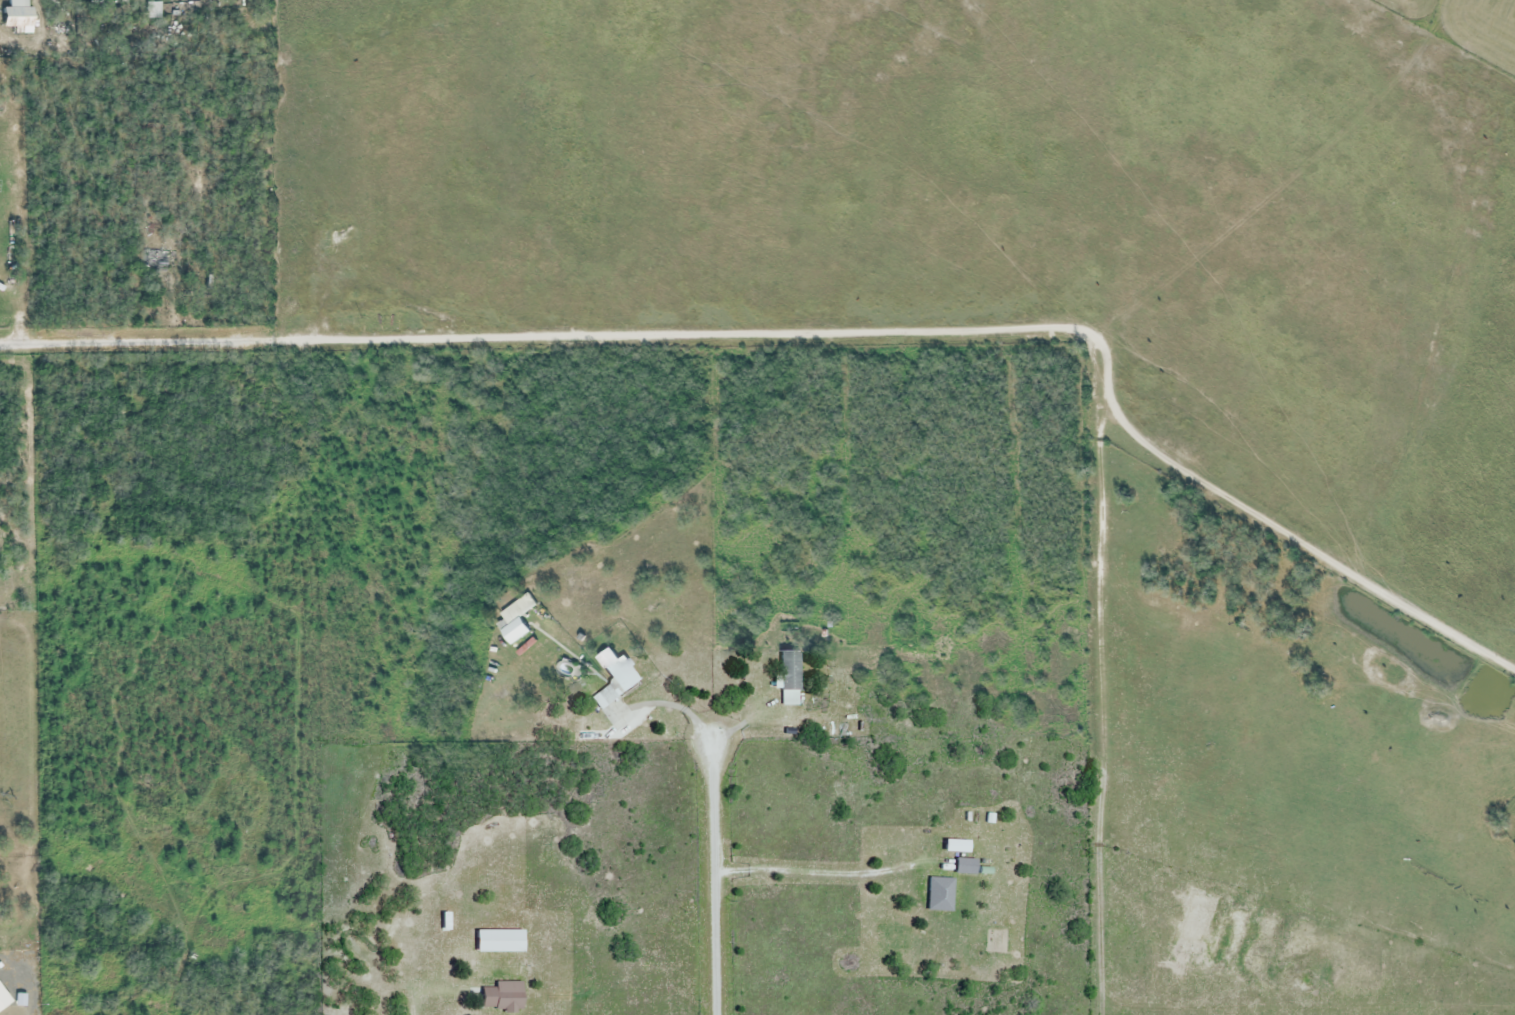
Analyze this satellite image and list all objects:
building: (18, 16)
building: (156, 259)
road: (555, 335)
building: (516, 620)
building: (790, 671)
building: (616, 677)
building: (958, 847)
building: (968, 866)
building: (941, 895)
building: (501, 942)
building: (501, 972)
building: (18, 1000)

